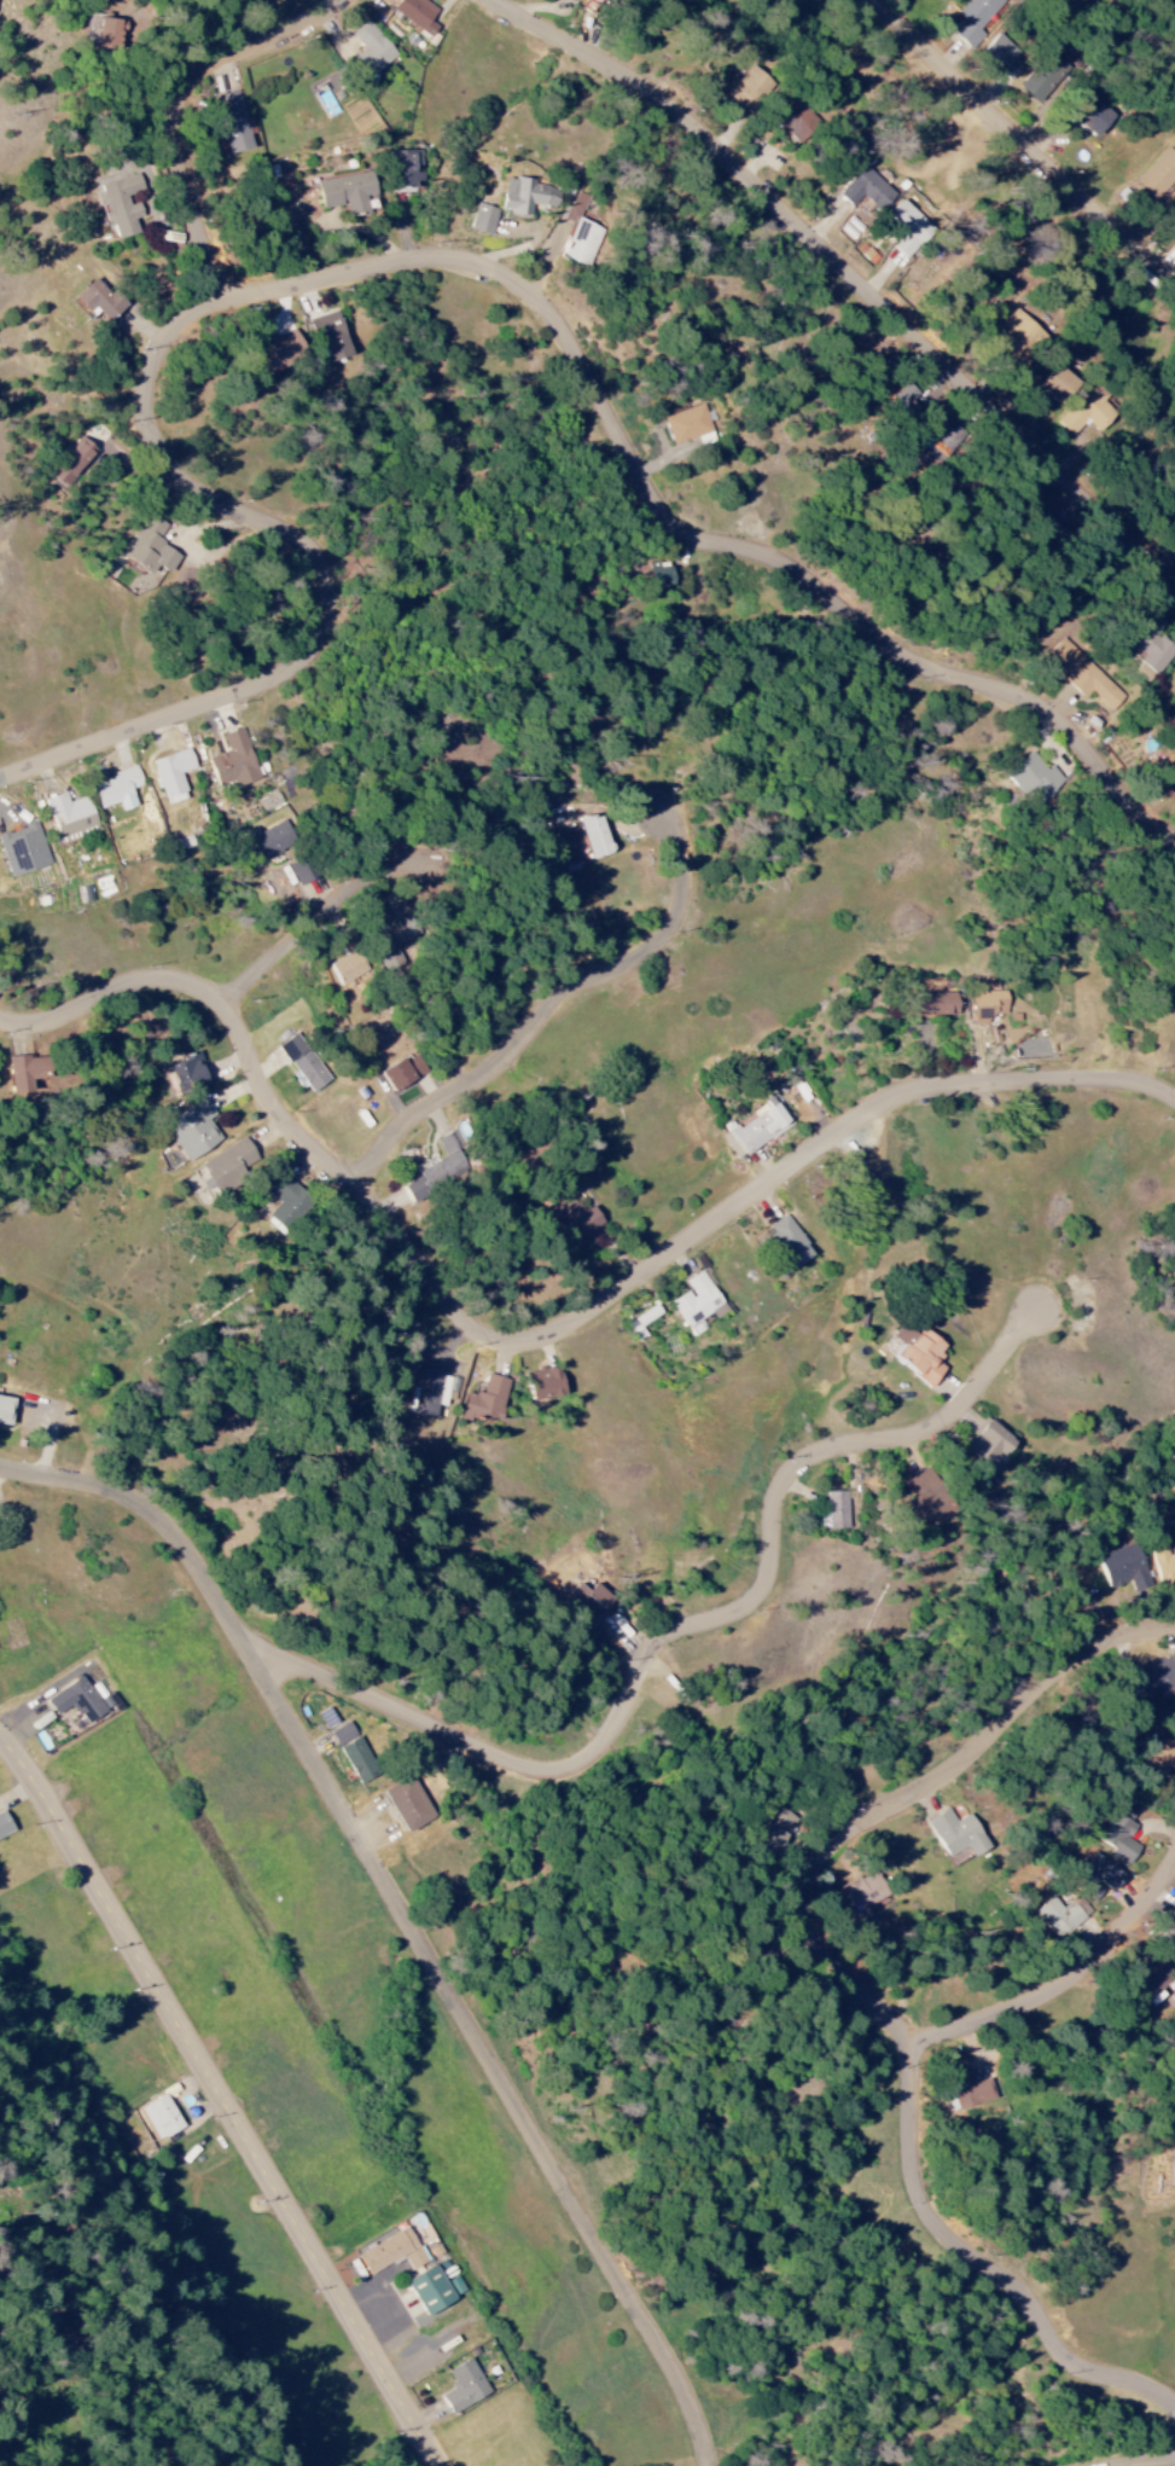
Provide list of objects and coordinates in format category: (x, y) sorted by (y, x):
building: (571, 0)
building: (604, 0)
building: (418, 13)
building: (975, 18)
building: (111, 35)
building: (371, 51)
building: (1005, 58)
building: (1039, 81)
building: (748, 89)
road: (182, 108)
building: (1094, 118)
building: (232, 123)
road: (1023, 141)
building: (405, 170)
building: (1159, 175)
building: (867, 191)
building: (347, 193)
building: (528, 197)
building: (120, 205)
building: (482, 220)
building: (911, 230)
road: (405, 261)
road: (849, 268)
building: (100, 301)
building: (331, 337)
building: (1019, 340)
building: (281, 352)
building: (1060, 387)
building: (1086, 413)
building: (687, 425)
building: (74, 462)
building: (150, 546)
building: (661, 574)
building: (1152, 649)
building: (1083, 677)
building: (234, 760)
building: (173, 774)
building: (1033, 779)
building: (117, 789)
building: (69, 816)
building: (597, 836)
building: (269, 840)
building: (23, 851)
building: (569, 858)
building: (301, 871)
building: (85, 894)
road: (327, 912)
building: (396, 935)
building: (348, 965)
road: (221, 992)
road: (555, 1000)
building: (936, 1004)
building: (989, 1005)
road: (239, 1010)
building: (303, 1063)
building: (28, 1073)
building: (403, 1073)
building: (190, 1074)
building: (762, 1125)
building: (193, 1131)
building: (226, 1168)
building: (437, 1170)
road: (351, 1172)
road: (366, 1188)
building: (286, 1203)
building: (581, 1222)
building: (791, 1241)
building: (697, 1302)
road: (539, 1339)
building: (920, 1352)
building: (545, 1383)
building: (429, 1393)
building: (487, 1400)
building: (6, 1410)
building: (991, 1444)
building: (929, 1499)
building: (833, 1511)
building: (1122, 1568)
building: (1164, 1569)
building: (591, 1602)
road: (669, 1636)
building: (1152, 1677)
building: (81, 1701)
building: (343, 1734)
building: (1156, 1757)
building: (359, 1762)
building: (409, 1805)
building: (5, 1827)
building: (780, 1828)
building: (959, 1835)
building: (1118, 1839)
building: (1101, 1873)
building: (863, 1895)
road: (405, 1911)
building: (1173, 1916)
building: (1060, 1917)
building: (1168, 1937)
building: (1152, 1977)
road: (1069, 1983)
road: (862, 1986)
building: (968, 2089)
road: (223, 2099)
building: (161, 2118)
building: (1170, 2174)
building: (388, 2250)
building: (415, 2258)
building: (436, 2288)
building: (464, 2387)

